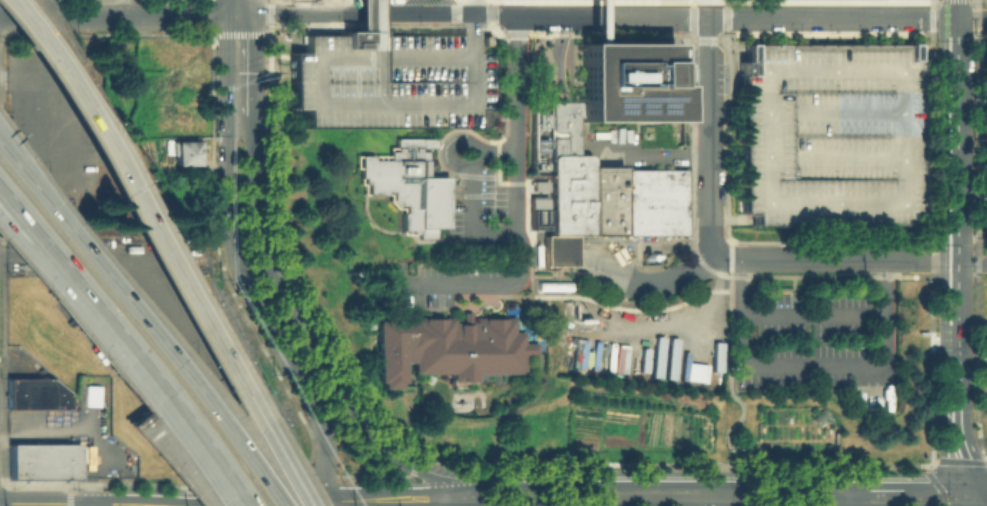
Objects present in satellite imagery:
road: (373, 6)
road: (470, 6)
road: (240, 7)
road: (710, 8)
building: (368, 14)
road: (598, 14)
road: (120, 17)
road: (972, 18)
road: (592, 21)
road: (38, 36)
road: (397, 56)
road: (254, 62)
building: (391, 78)
parking lot: (391, 78)
building: (626, 80)
road: (515, 97)
road: (357, 102)
road: (735, 110)
road: (829, 110)
building: (827, 133)
parking lot: (827, 133)
road: (708, 135)
road: (458, 138)
parking lot: (985, 139)
road: (492, 151)
building: (185, 155)
road: (829, 156)
road: (679, 157)
road: (2, 160)
road: (957, 162)
road: (2, 163)
building: (403, 183)
building: (536, 185)
building: (595, 187)
road: (896, 198)
building: (535, 212)
road: (472, 219)
road: (32, 241)
road: (160, 249)
road: (31, 254)
road: (94, 256)
road: (834, 262)
road: (971, 263)
road: (234, 266)
road: (648, 281)
road: (505, 283)
building: (551, 287)
road: (284, 300)
road: (613, 308)
road: (813, 311)
road: (147, 331)
parking lot: (816, 335)
building: (446, 345)
road: (958, 360)
road: (812, 366)
road: (730, 380)
road: (153, 390)
building: (35, 395)
building: (91, 395)
road: (78, 433)
road: (963, 443)
building: (44, 462)
road: (180, 464)
road: (426, 470)
road: (651, 485)
road: (874, 486)
road: (942, 486)
traffic signals: (984, 486)
road: (985, 486)
road: (985, 488)
road: (389, 491)
road: (714, 495)
road: (847, 496)
road: (469, 497)
road: (45, 503)
road: (127, 503)
road: (275, 503)
road: (332, 503)
road: (90, 504)
road: (657, 504)
road: (896, 505)

